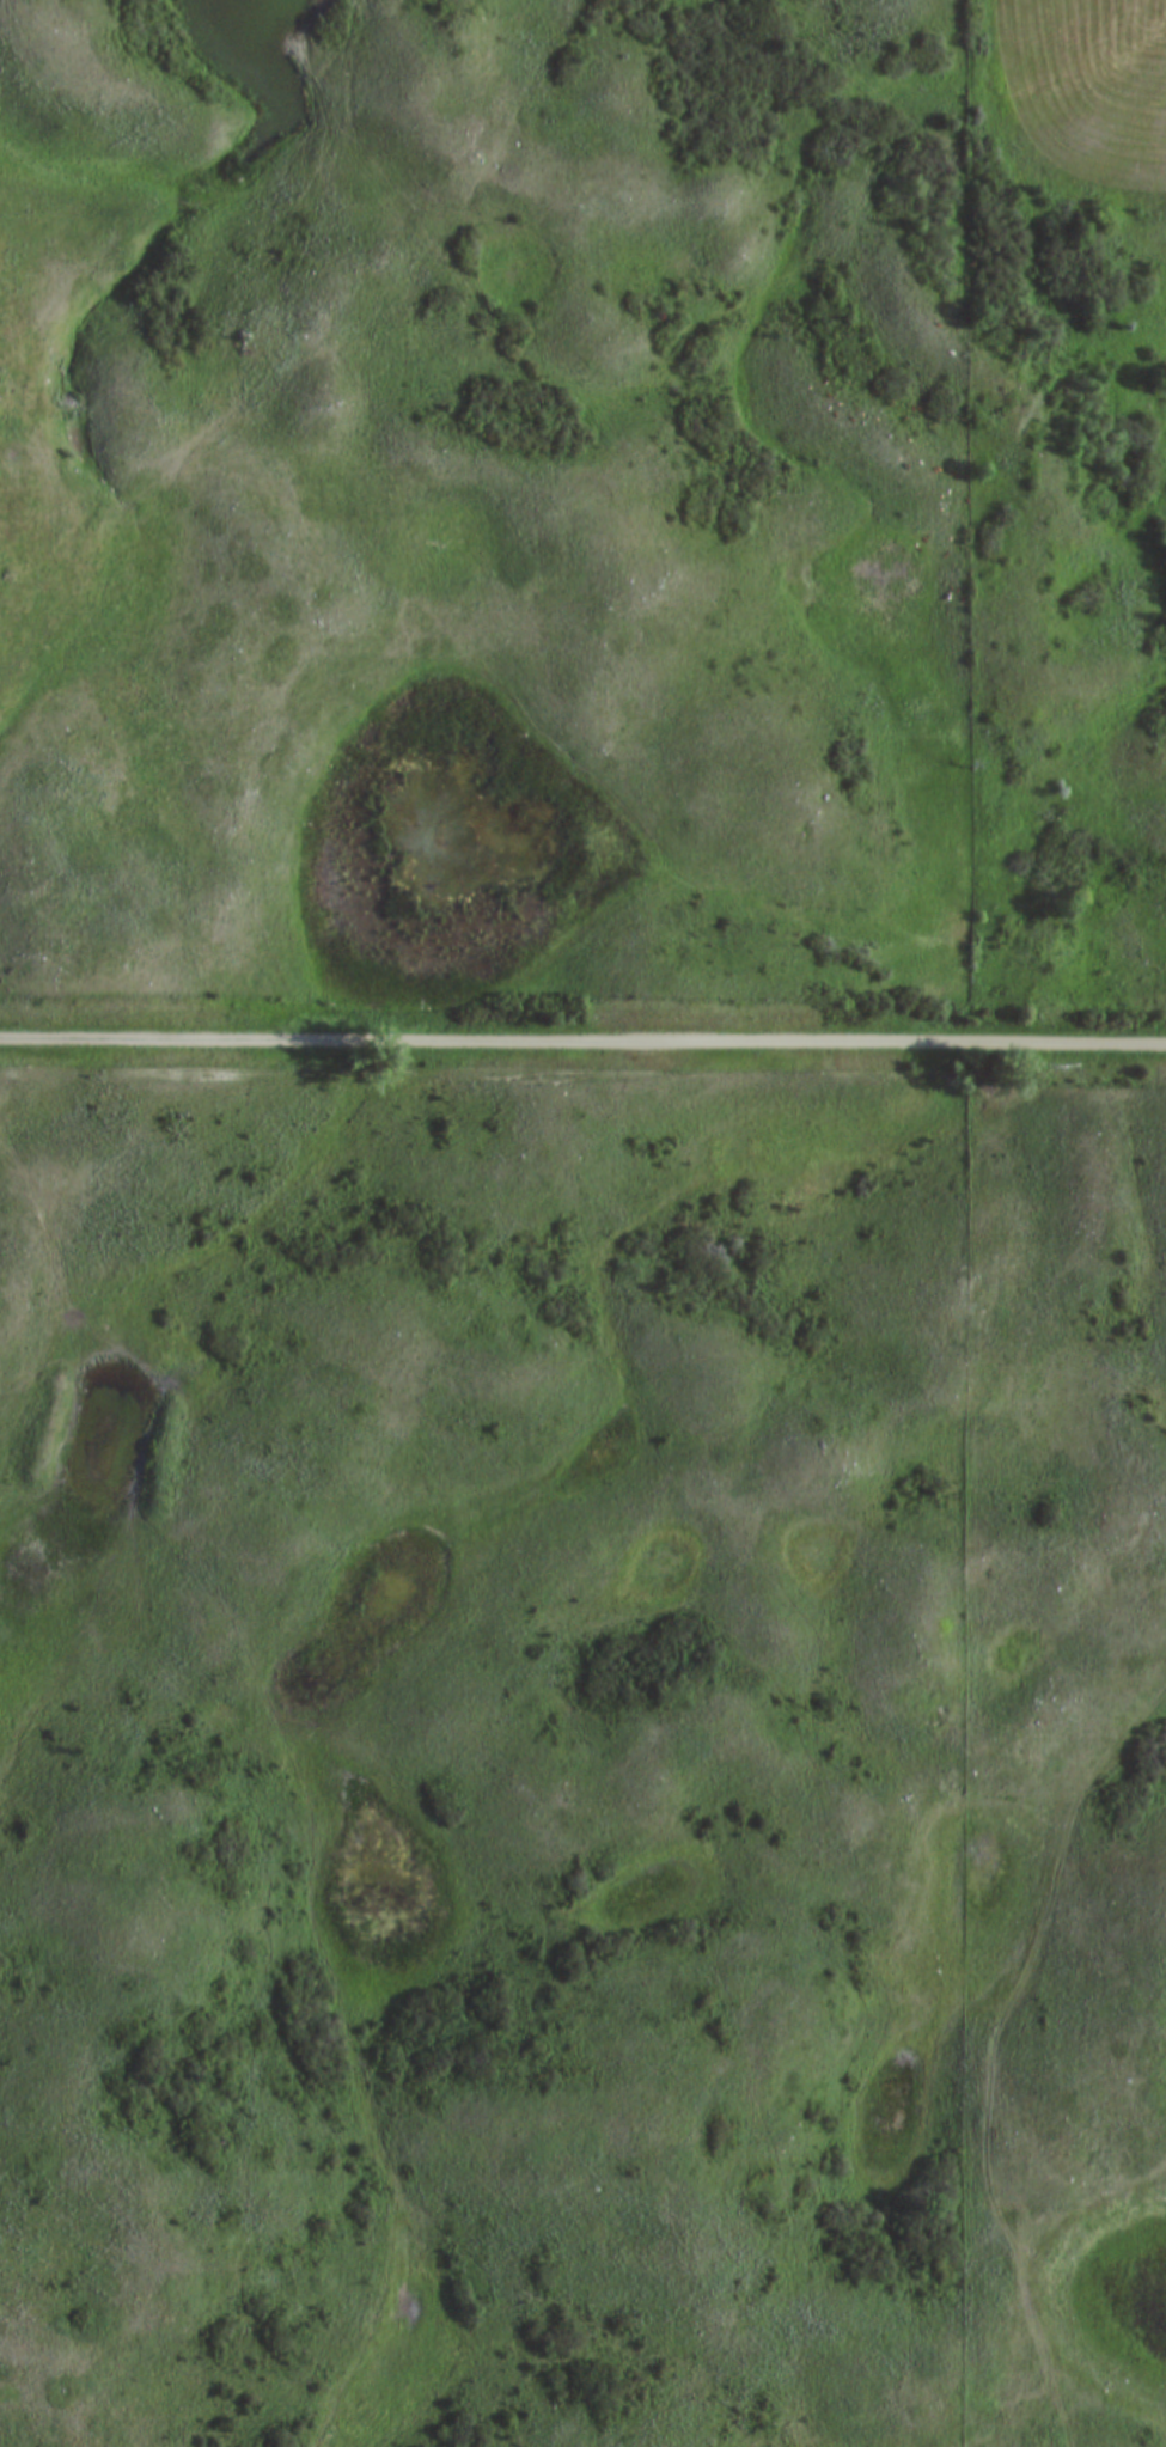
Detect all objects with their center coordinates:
road: (582, 1039)

